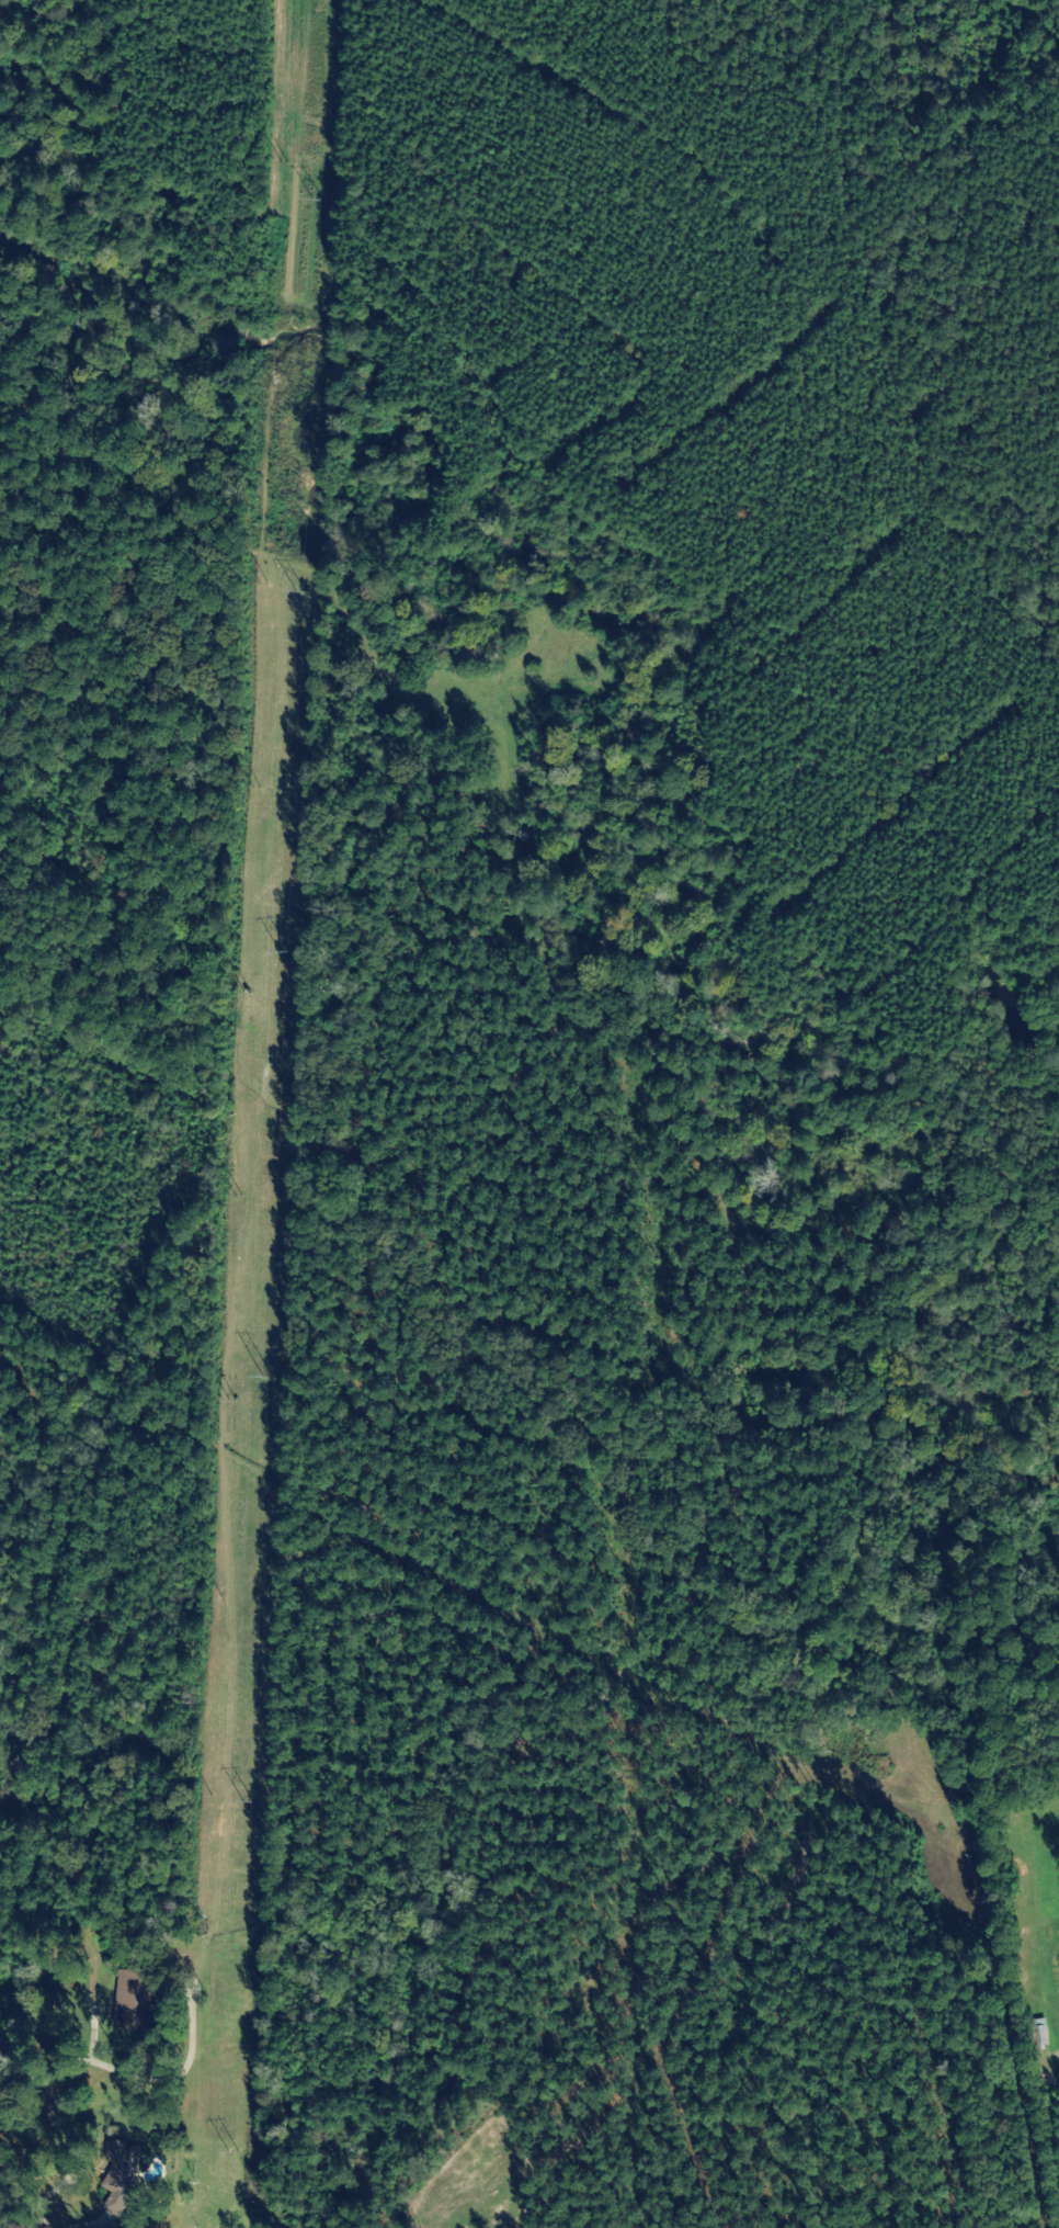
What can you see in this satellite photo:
building: (1034, 2032)
road: (815, 2134)
building: (115, 2168)

